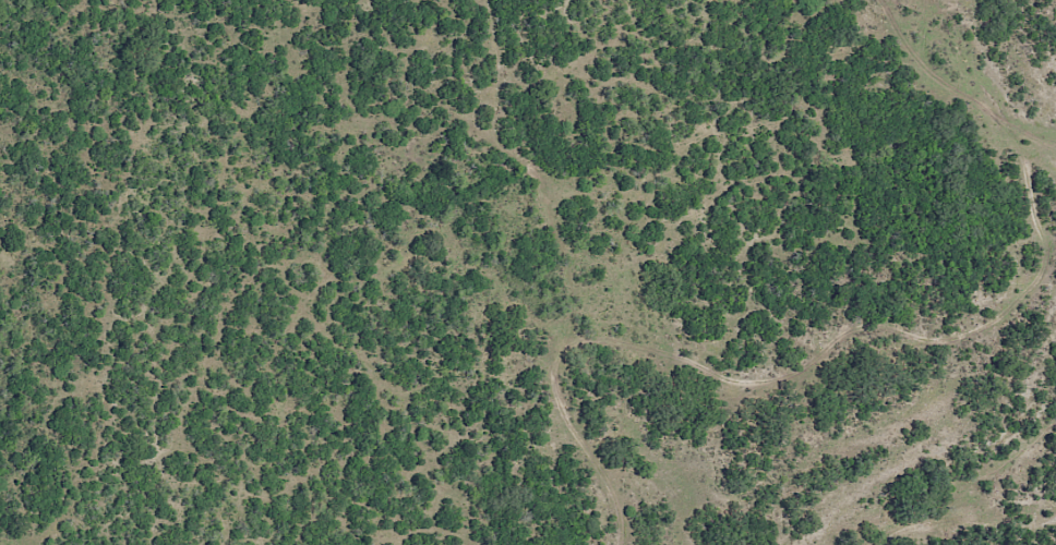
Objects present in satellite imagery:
road: (1004, 537)

